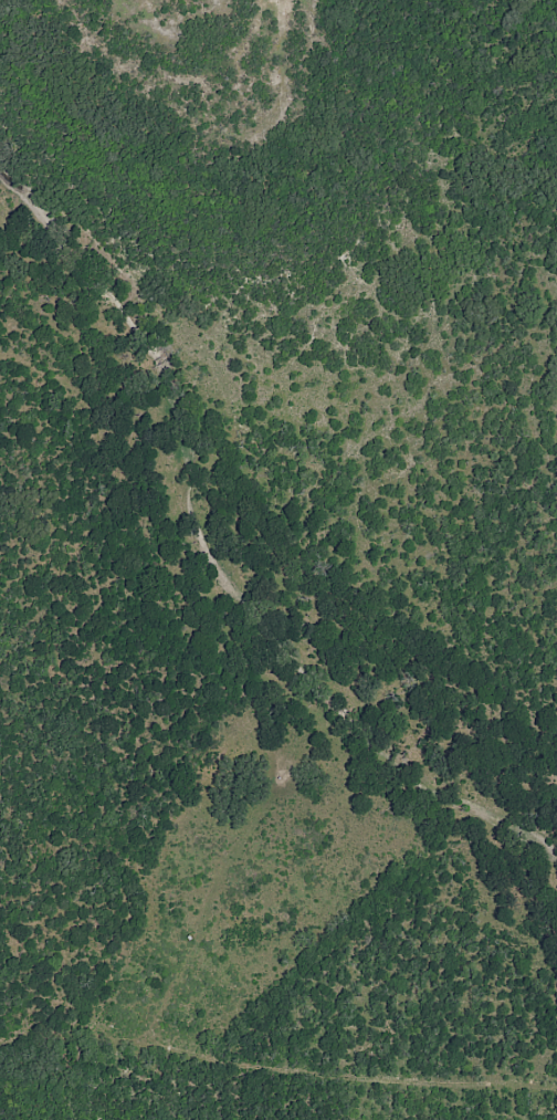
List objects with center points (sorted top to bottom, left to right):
road: (277, 1080)

